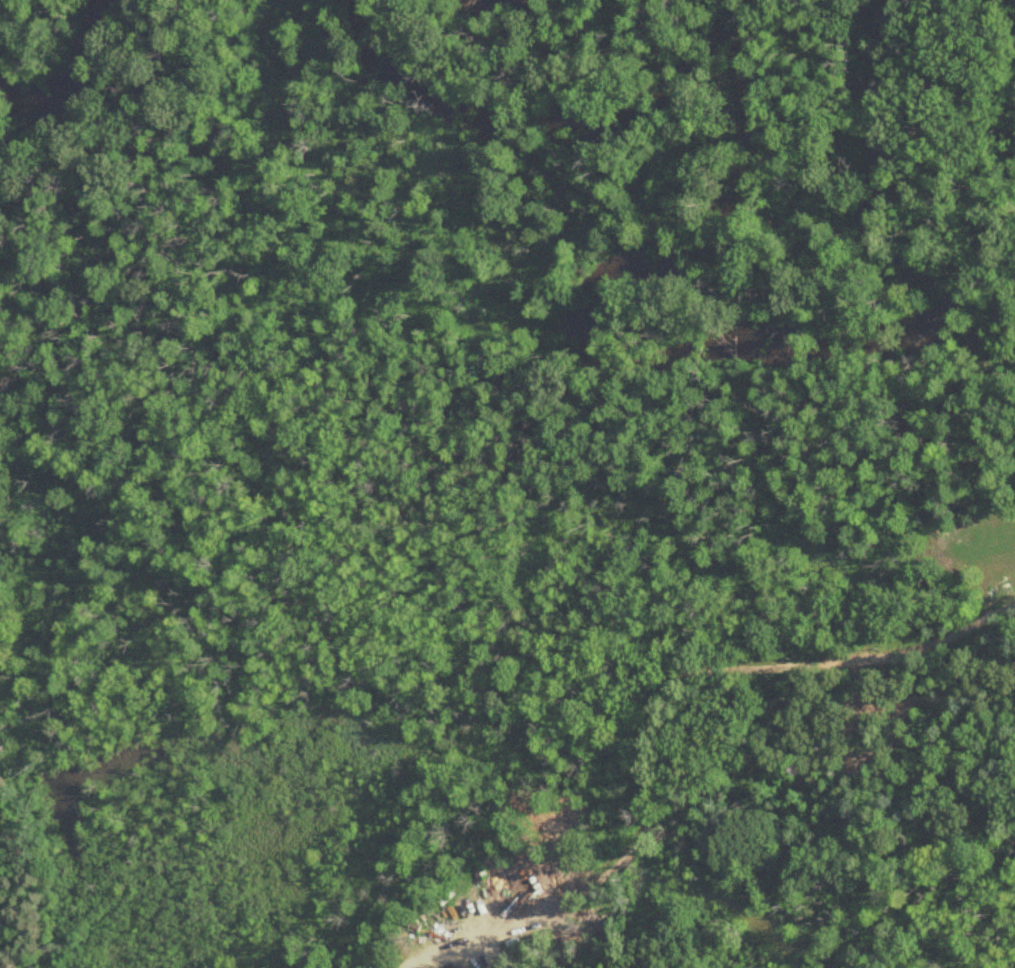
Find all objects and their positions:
river: (68, 50)
river: (633, 274)
road: (654, 735)

